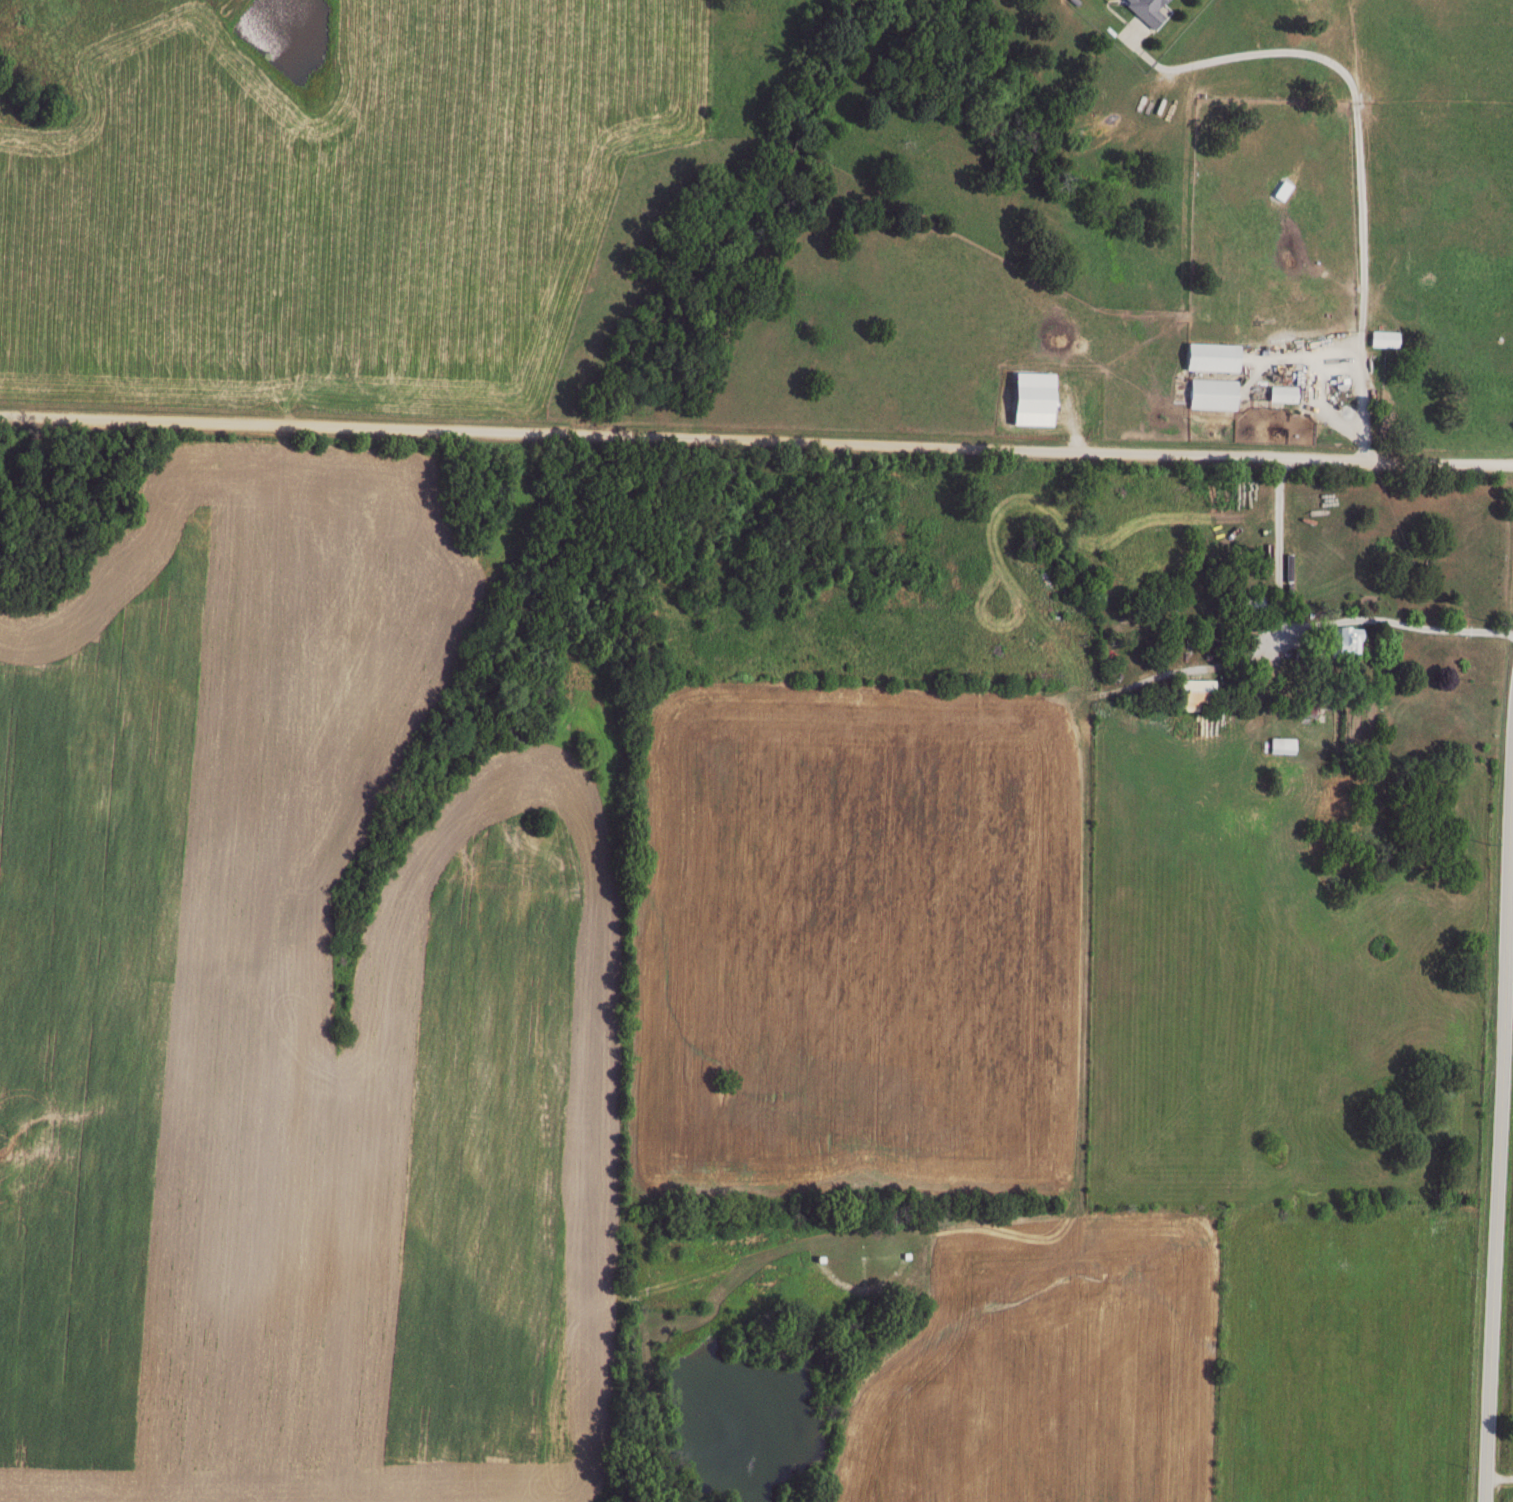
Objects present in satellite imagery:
building: (1145, 9)
road: (1353, 96)
building: (1383, 336)
building: (1210, 354)
road: (1313, 360)
building: (1211, 391)
building: (1281, 391)
building: (1029, 396)
road: (756, 442)
road: (1365, 448)
road: (1437, 626)
building: (1342, 639)
building: (1191, 693)
road: (1499, 1126)
road: (1501, 1477)

